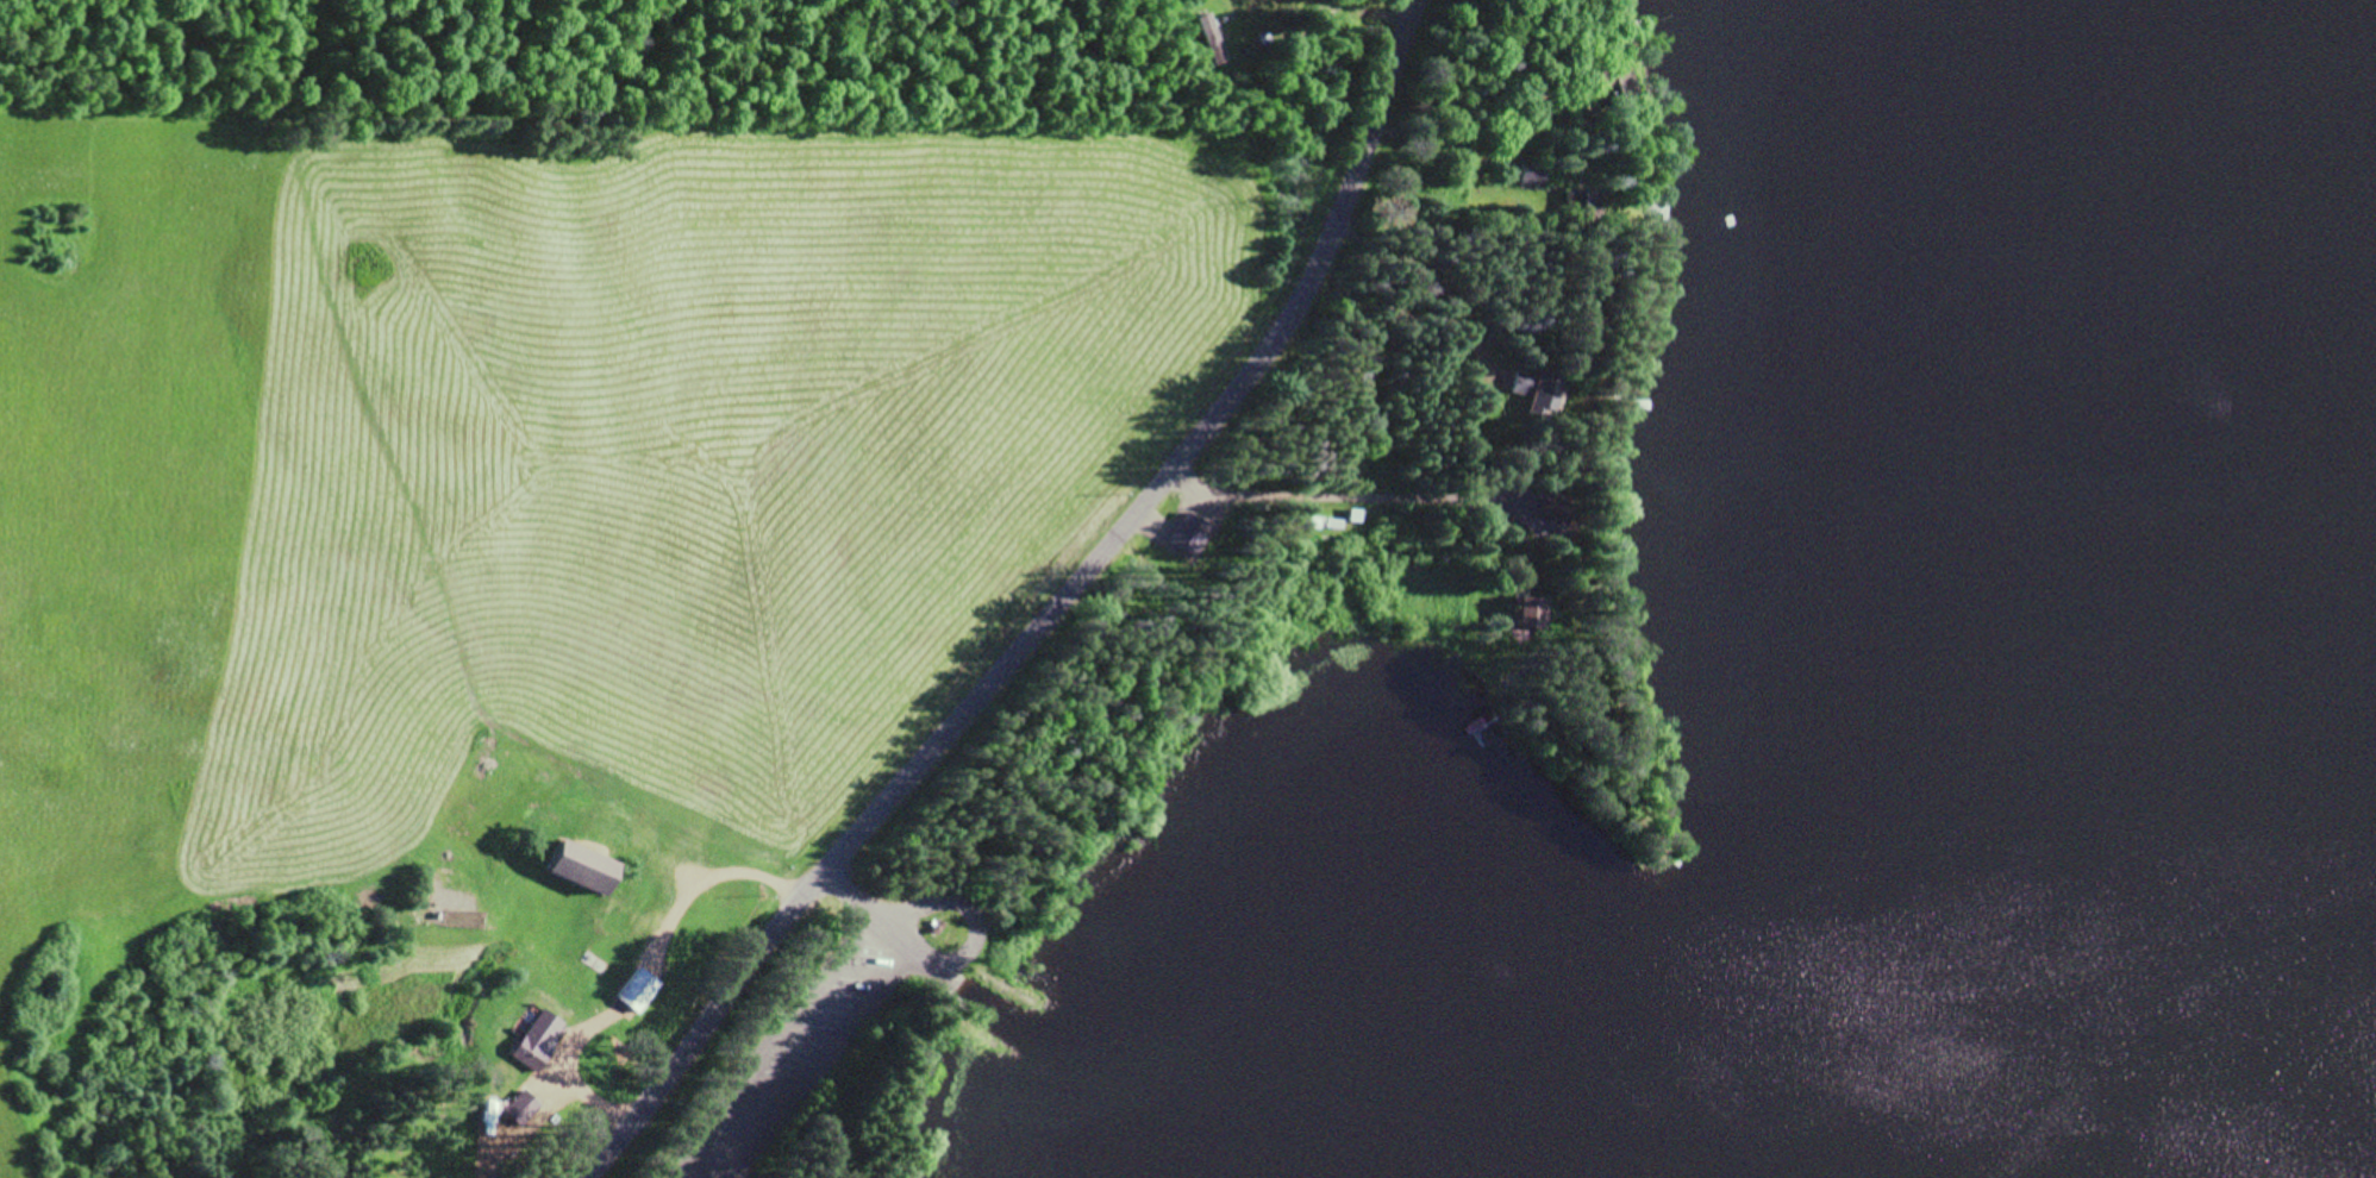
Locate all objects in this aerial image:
building: (1212, 37)
building: (1613, 45)
building: (1615, 86)
building: (1531, 174)
building: (1578, 207)
road: (1431, 290)
building: (1539, 390)
road: (1349, 497)
building: (1559, 509)
building: (1355, 519)
building: (1327, 527)
building: (1533, 612)
road: (1051, 618)
building: (583, 866)
building: (638, 990)
building: (534, 1044)
building: (521, 1108)
building: (489, 1116)

